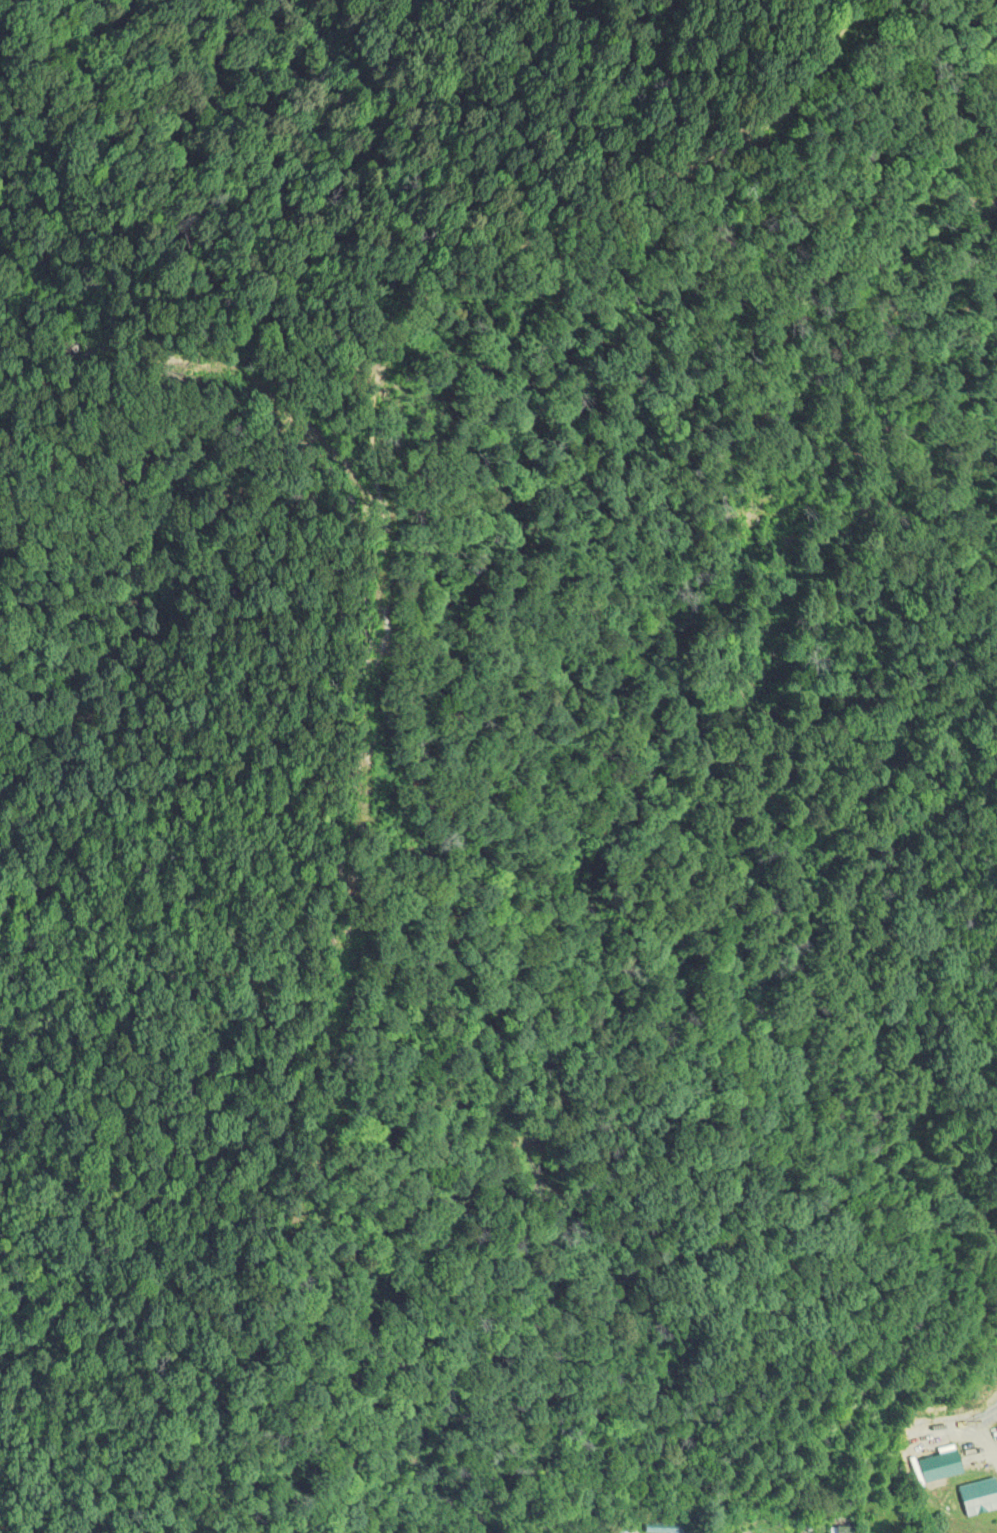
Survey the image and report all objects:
building: (980, 1497)
building: (739, 1525)
building: (846, 1526)
building: (663, 1528)

